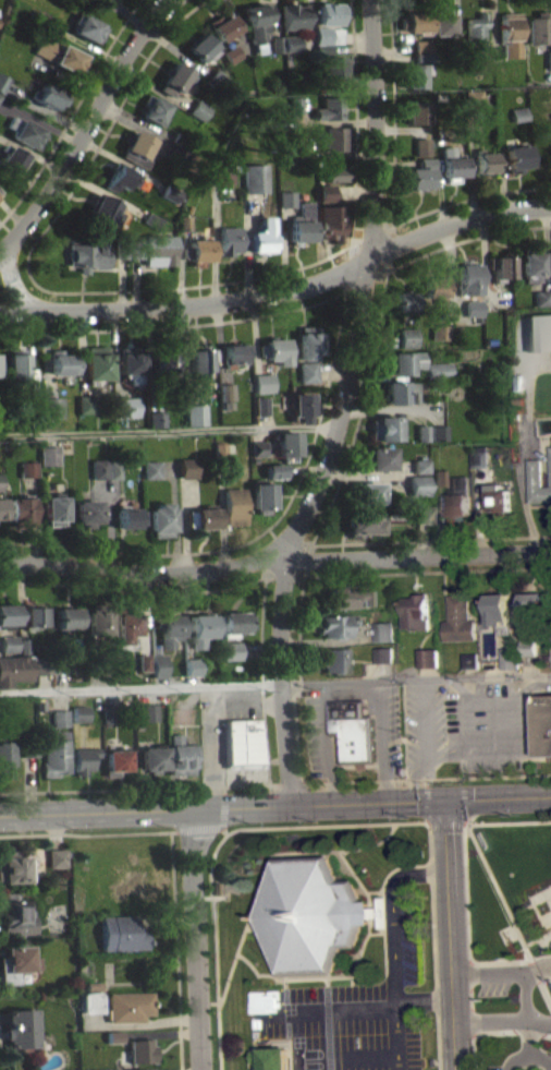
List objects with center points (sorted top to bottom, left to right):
road: (166, 1)
building: (96, 2)
building: (328, 13)
building: (292, 16)
building: (40, 17)
building: (256, 21)
building: (414, 21)
building: (441, 21)
building: (222, 25)
building: (86, 27)
building: (540, 27)
building: (478, 33)
building: (512, 34)
building: (284, 43)
building: (424, 45)
building: (200, 47)
building: (328, 50)
building: (232, 53)
building: (57, 55)
building: (424, 57)
building: (550, 59)
building: (332, 72)
building: (412, 75)
building: (172, 77)
building: (216, 80)
building: (2, 82)
building: (2, 89)
building: (47, 96)
building: (475, 104)
building: (297, 107)
building: (151, 109)
building: (198, 109)
building: (328, 109)
road: (72, 111)
building: (416, 112)
building: (521, 113)
building: (199, 117)
building: (521, 121)
road: (83, 127)
building: (23, 132)
building: (177, 137)
building: (331, 142)
building: (423, 146)
building: (135, 148)
building: (517, 157)
building: (10, 159)
building: (486, 161)
building: (452, 164)
building: (133, 166)
building: (221, 172)
building: (418, 173)
building: (332, 175)
building: (120, 177)
building: (255, 178)
building: (333, 181)
building: (169, 192)
building: (325, 192)
road: (393, 195)
building: (286, 197)
building: (103, 209)
building: (152, 220)
building: (184, 221)
building: (329, 221)
building: (301, 224)
building: (262, 236)
building: (228, 240)
building: (154, 249)
building: (118, 250)
building: (197, 250)
building: (86, 255)
building: (531, 264)
building: (502, 265)
building: (468, 277)
road: (14, 280)
road: (145, 289)
road: (282, 290)
building: (433, 290)
building: (543, 298)
building: (404, 300)
building: (542, 305)
building: (474, 308)
road: (235, 320)
building: (441, 330)
building: (408, 337)
building: (441, 339)
building: (539, 339)
building: (308, 341)
building: (274, 350)
building: (235, 351)
building: (200, 360)
building: (61, 361)
building: (404, 361)
building: (96, 362)
building: (130, 363)
building: (163, 363)
building: (16, 364)
building: (439, 370)
building: (307, 371)
building: (264, 383)
building: (226, 392)
building: (400, 392)
building: (30, 404)
building: (85, 404)
building: (299, 405)
building: (53, 406)
building: (126, 406)
building: (260, 406)
road: (344, 407)
building: (196, 413)
building: (157, 418)
building: (157, 426)
building: (385, 428)
road: (169, 432)
building: (424, 432)
building: (440, 432)
building: (286, 444)
road: (352, 444)
building: (257, 447)
building: (223, 448)
building: (49, 455)
building: (258, 455)
building: (480, 456)
building: (378, 458)
building: (550, 459)
building: (421, 466)
building: (188, 467)
building: (28, 468)
building: (115, 468)
building: (100, 469)
building: (152, 469)
building: (274, 470)
building: (421, 472)
building: (28, 476)
building: (439, 476)
building: (274, 478)
building: (1, 481)
building: (537, 483)
building: (419, 484)
road: (114, 492)
building: (369, 492)
building: (262, 496)
building: (460, 497)
building: (499, 497)
building: (234, 505)
building: (2, 508)
building: (56, 509)
building: (20, 512)
building: (90, 512)
road: (221, 513)
building: (419, 514)
road: (174, 515)
building: (130, 516)
building: (203, 518)
building: (161, 519)
building: (362, 521)
road: (109, 524)
road: (184, 525)
road: (192, 552)
road: (274, 557)
road: (320, 575)
road: (133, 590)
building: (347, 597)
road: (20, 600)
building: (534, 601)
building: (499, 608)
building: (416, 611)
road: (145, 612)
building: (8, 614)
building: (35, 614)
building: (68, 617)
building: (99, 618)
building: (460, 618)
building: (235, 621)
building: (127, 624)
building: (335, 625)
building: (168, 628)
building: (200, 629)
building: (384, 630)
building: (9, 642)
road: (327, 642)
road: (0, 644)
building: (23, 645)
building: (529, 648)
building: (8, 650)
building: (230, 650)
building: (385, 654)
building: (511, 657)
building: (429, 658)
building: (334, 660)
building: (144, 661)
building: (472, 661)
building: (109, 662)
building: (37, 664)
building: (158, 665)
road: (530, 665)
building: (59, 666)
building: (192, 666)
building: (13, 669)
building: (144, 669)
road: (384, 671)
road: (511, 671)
road: (429, 672)
building: (41, 673)
road: (473, 673)
road: (415, 678)
road: (107, 680)
road: (260, 680)
road: (60, 681)
road: (192, 681)
road: (425, 682)
road: (139, 688)
road: (351, 692)
road: (60, 699)
building: (149, 711)
building: (79, 712)
building: (108, 714)
building: (60, 717)
parking lot: (318, 718)
building: (79, 721)
building: (60, 724)
building: (542, 724)
parking lot: (490, 725)
parking lot: (426, 729)
building: (354, 730)
building: (243, 743)
road: (426, 745)
building: (28, 748)
road: (500, 749)
building: (54, 752)
building: (179, 753)
building: (4, 758)
building: (152, 758)
building: (85, 759)
building: (118, 759)
road: (531, 774)
road: (406, 778)
road: (463, 781)
road: (427, 782)
road: (286, 783)
road: (135, 788)
road: (222, 789)
road: (498, 798)
traffic signals: (445, 800)
road: (465, 800)
road: (426, 802)
road: (222, 806)
road: (425, 819)
road: (521, 821)
road: (445, 823)
road: (476, 823)
road: (218, 827)
road: (226, 830)
road: (465, 831)
road: (89, 833)
road: (218, 850)
building: (57, 857)
road: (267, 866)
building: (13, 867)
road: (392, 870)
road: (355, 876)
road: (498, 891)
road: (380, 898)
road: (450, 912)
building: (15, 915)
building: (313, 915)
road: (167, 921)
road: (371, 928)
building: (121, 933)
road: (197, 939)
road: (469, 945)
road: (384, 946)
road: (393, 947)
road: (433, 947)
road: (175, 950)
building: (15, 962)
road: (254, 967)
road: (502, 971)
road: (311, 977)
road: (352, 981)
road: (540, 981)
road: (328, 982)
road: (286, 983)
building: (91, 985)
road: (470, 993)
road: (525, 998)
road: (425, 999)
building: (90, 1001)
building: (126, 1006)
parking lot: (355, 1007)
road: (325, 1008)
road: (138, 1023)
road: (490, 1023)
road: (539, 1023)
building: (20, 1029)
road: (506, 1031)
road: (161, 1033)
building: (112, 1036)
road: (291, 1042)
road: (262, 1043)
road: (453, 1047)
building: (139, 1050)
road: (473, 1051)
road: (528, 1053)
road: (248, 1057)
building: (273, 1057)
road: (353, 1058)
road: (541, 1059)
parking lot: (518, 1060)
building: (140, 1069)
road: (253, 1069)

